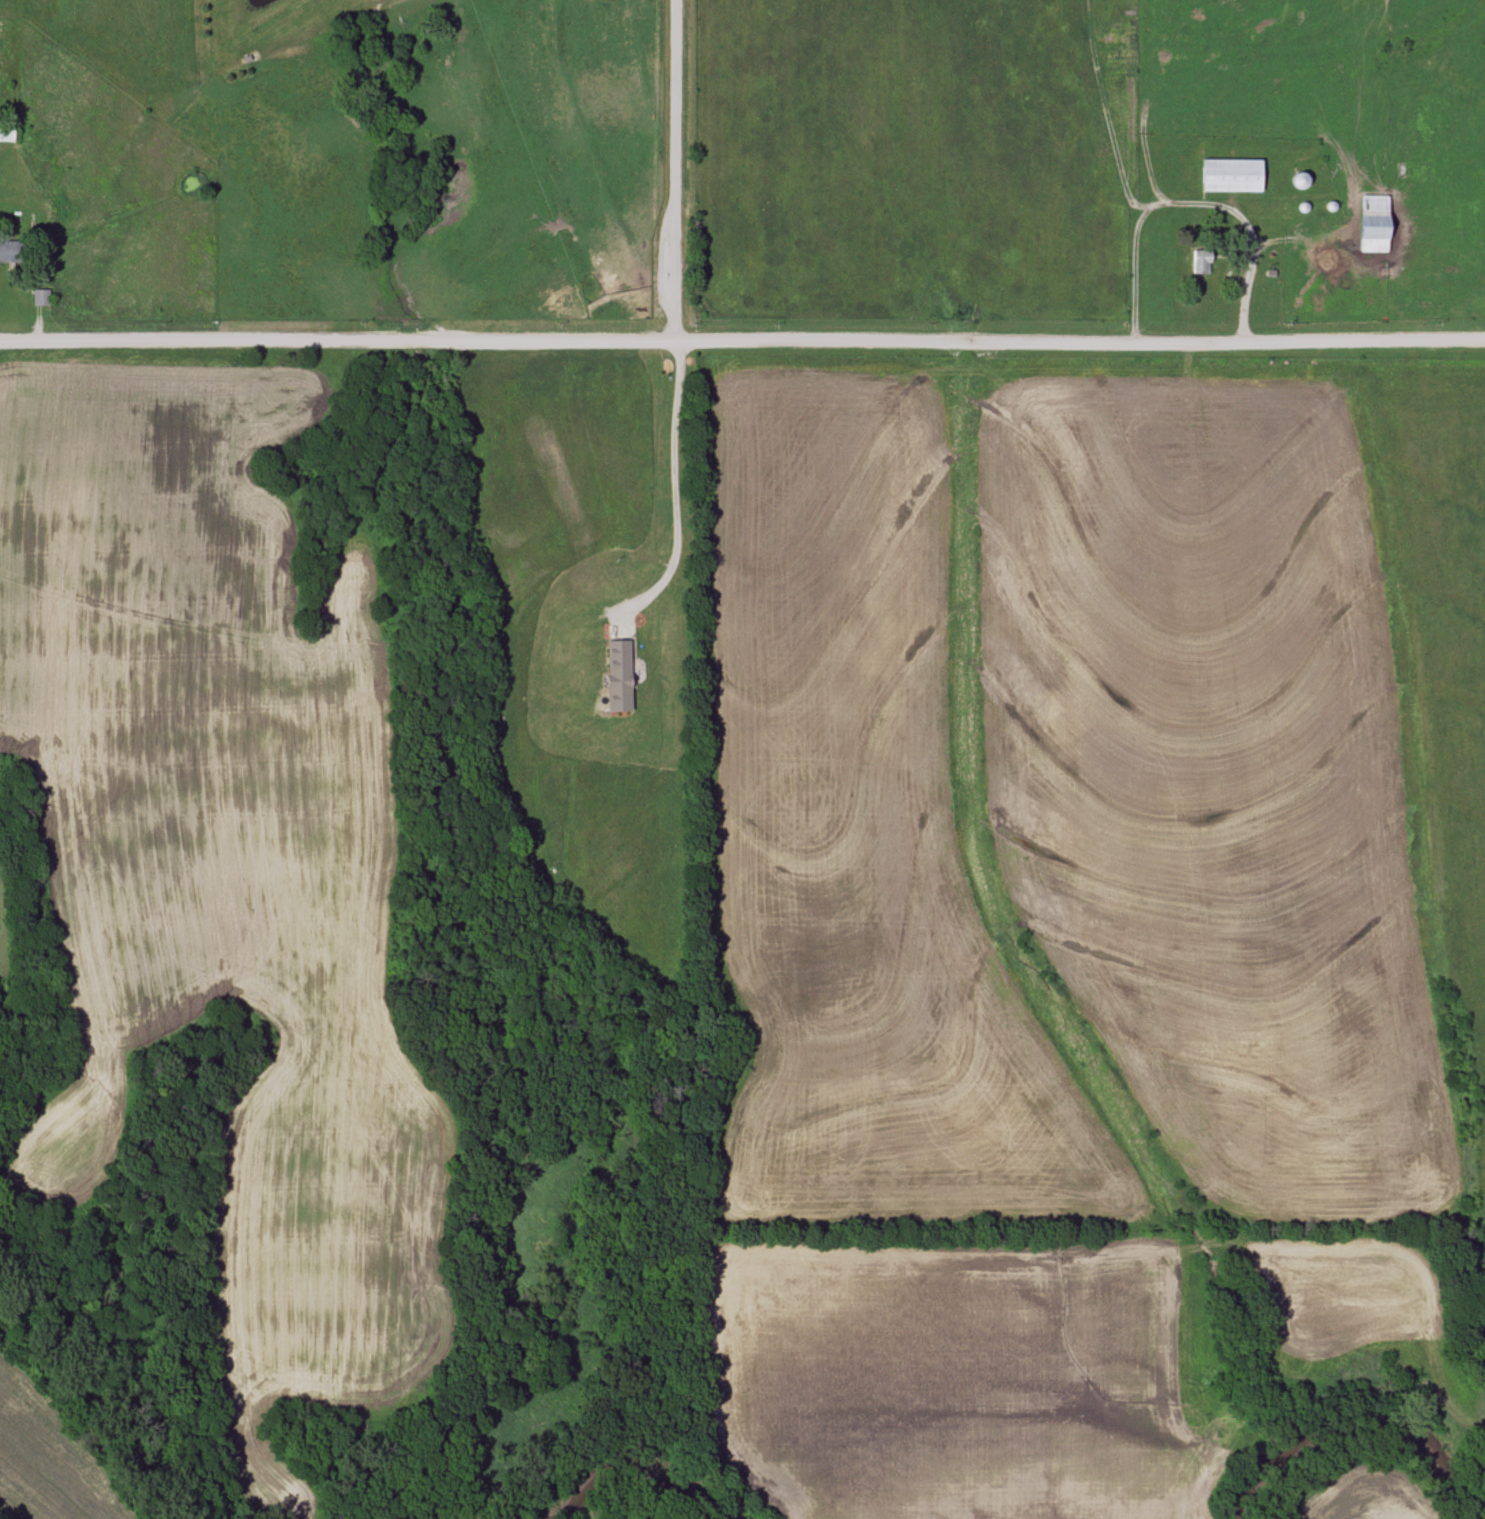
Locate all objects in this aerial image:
building: (8, 134)
road: (670, 170)
building: (1227, 176)
road: (1190, 203)
building: (1370, 224)
building: (13, 251)
building: (1200, 262)
building: (42, 297)
road: (742, 340)
road: (676, 496)
building: (620, 675)
river: (1355, 1421)
river: (624, 1481)

